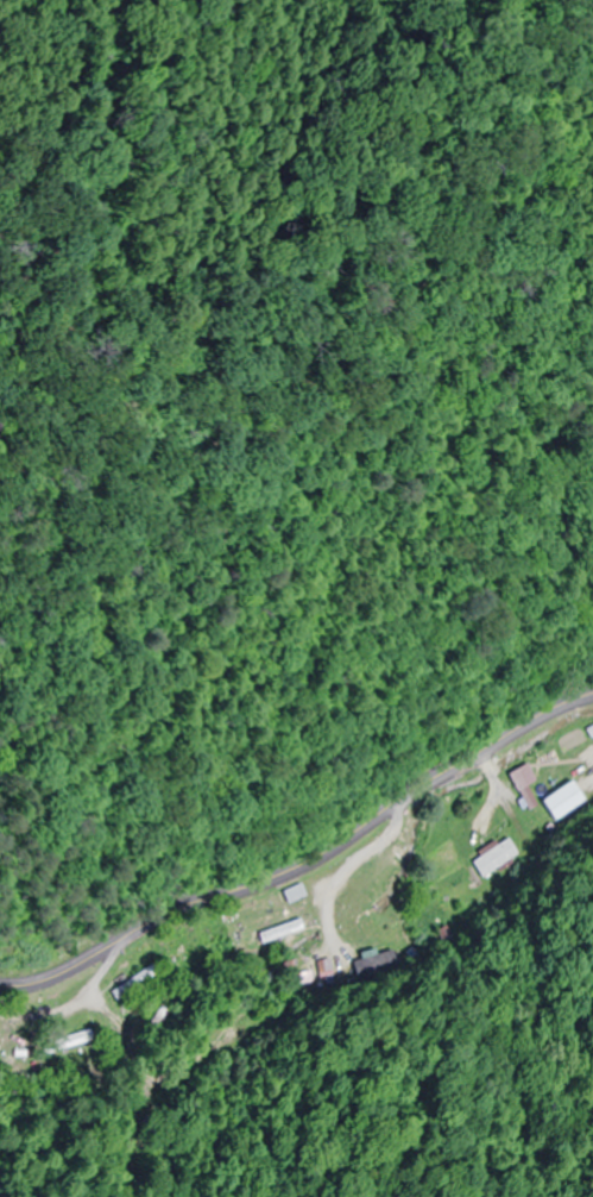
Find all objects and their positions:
building: (529, 776)
building: (537, 798)
building: (573, 800)
road: (305, 861)
building: (294, 892)
building: (460, 895)
building: (135, 982)
building: (67, 1041)

